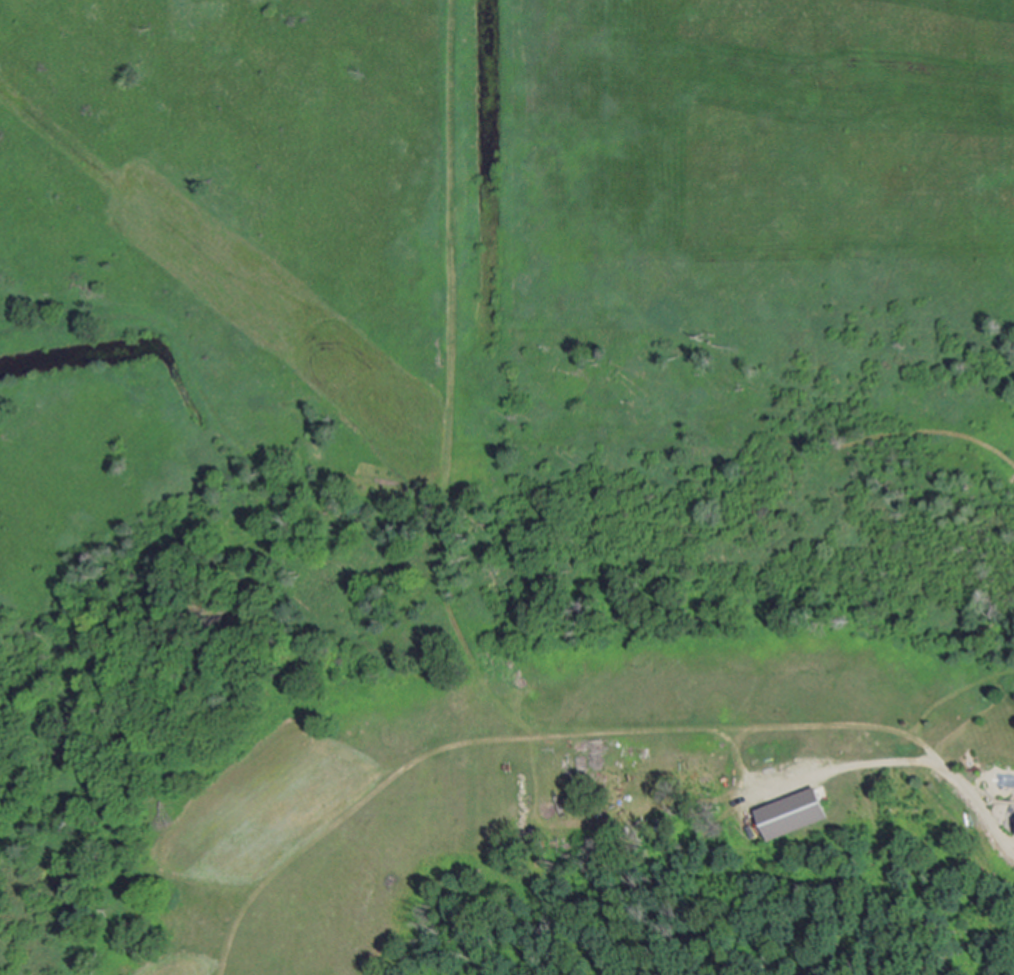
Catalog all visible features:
road: (945, 772)
building: (792, 815)

